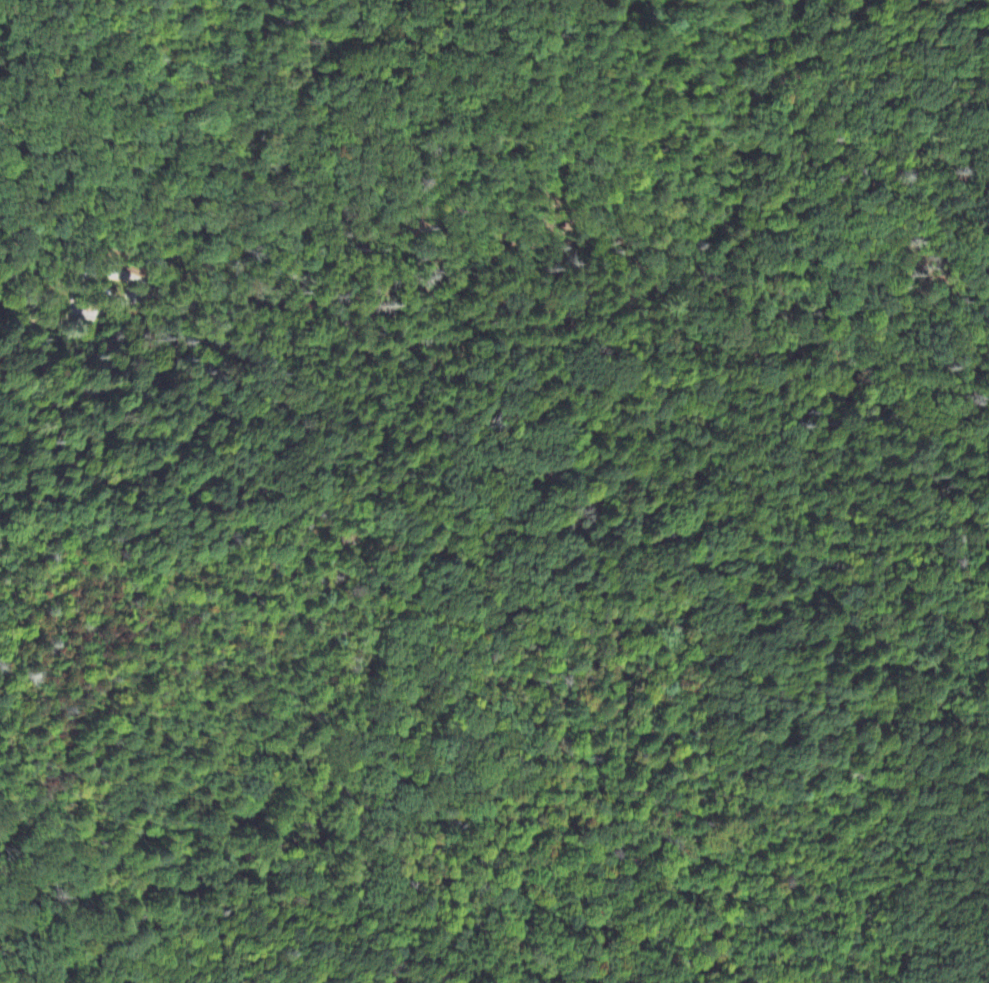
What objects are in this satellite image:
park: (493, 559)

